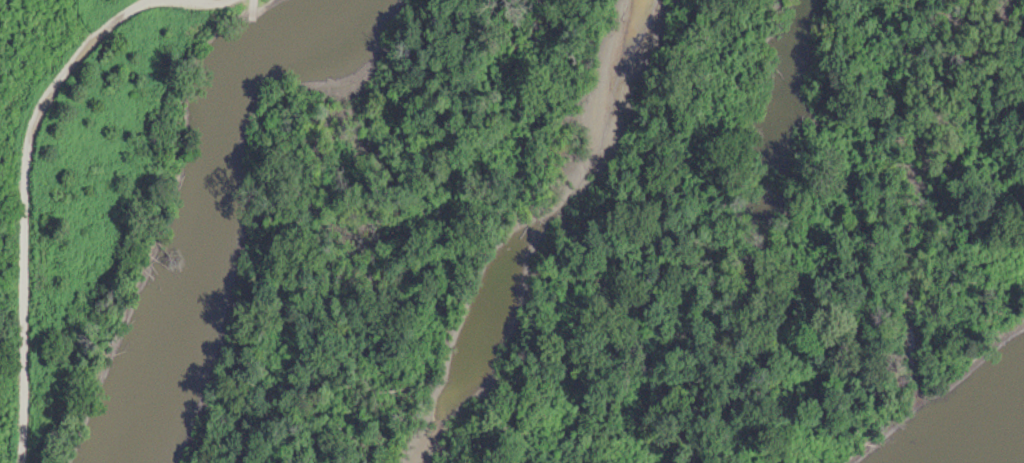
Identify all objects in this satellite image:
road: (21, 207)

